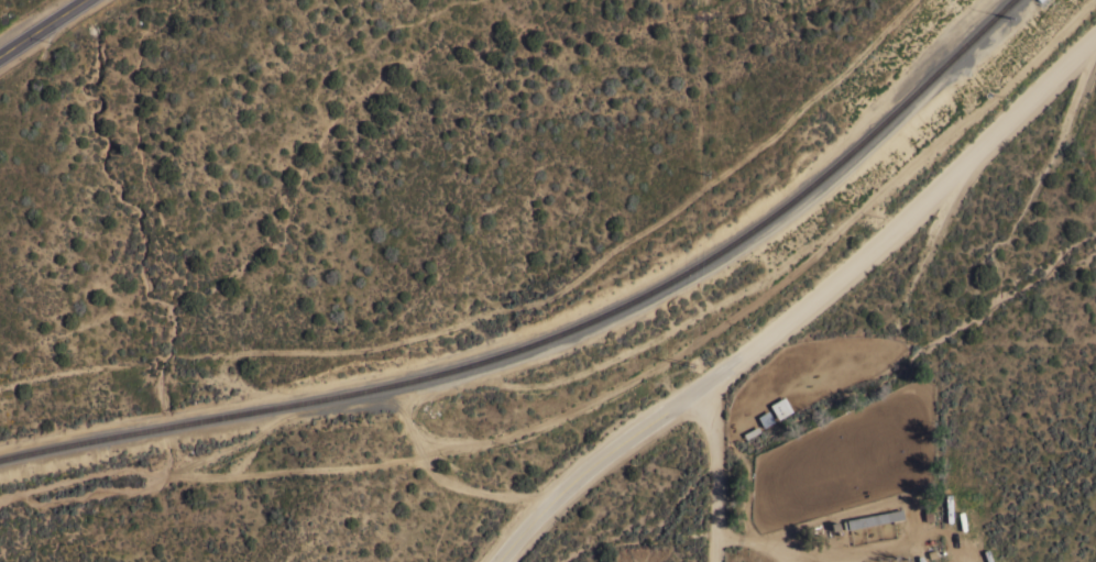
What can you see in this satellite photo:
road: (43, 29)
road: (802, 310)
railway: (556, 335)
building: (780, 408)
road: (715, 474)
building: (873, 518)
road: (761, 541)

